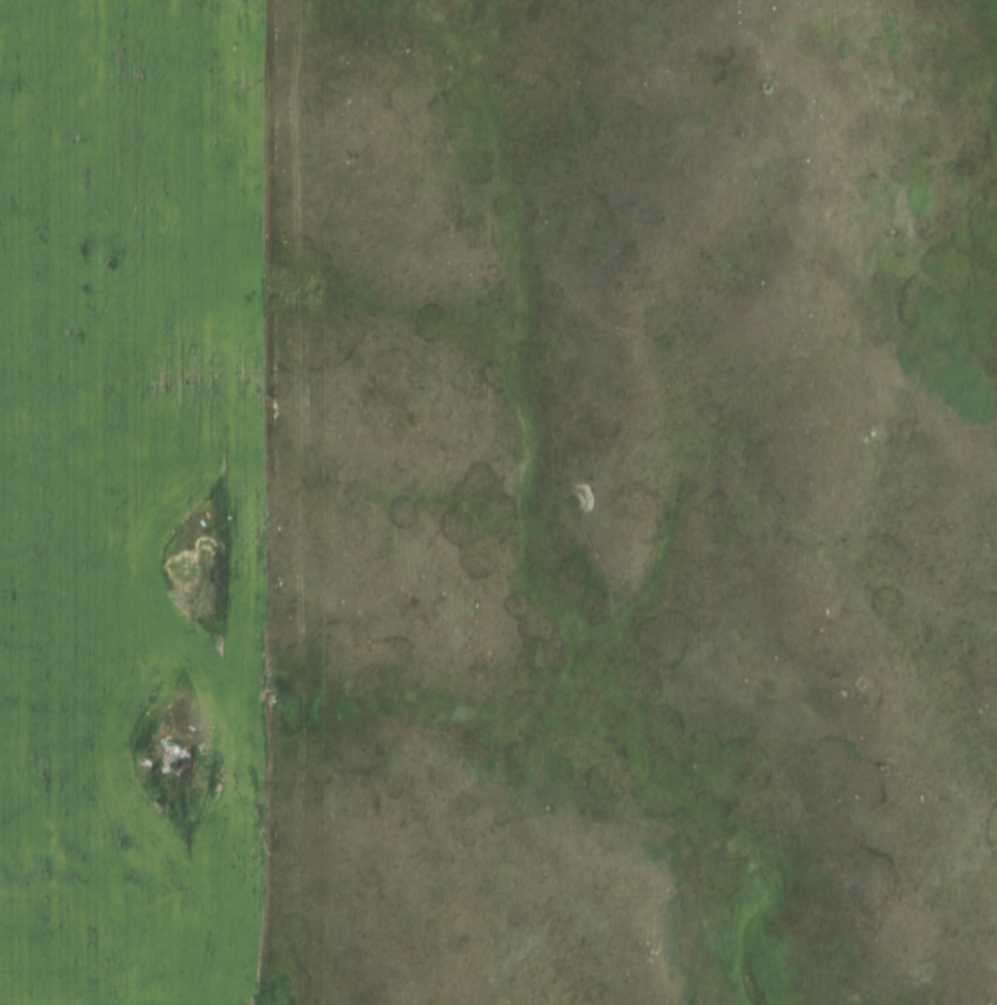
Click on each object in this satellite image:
road: (80, 775)

